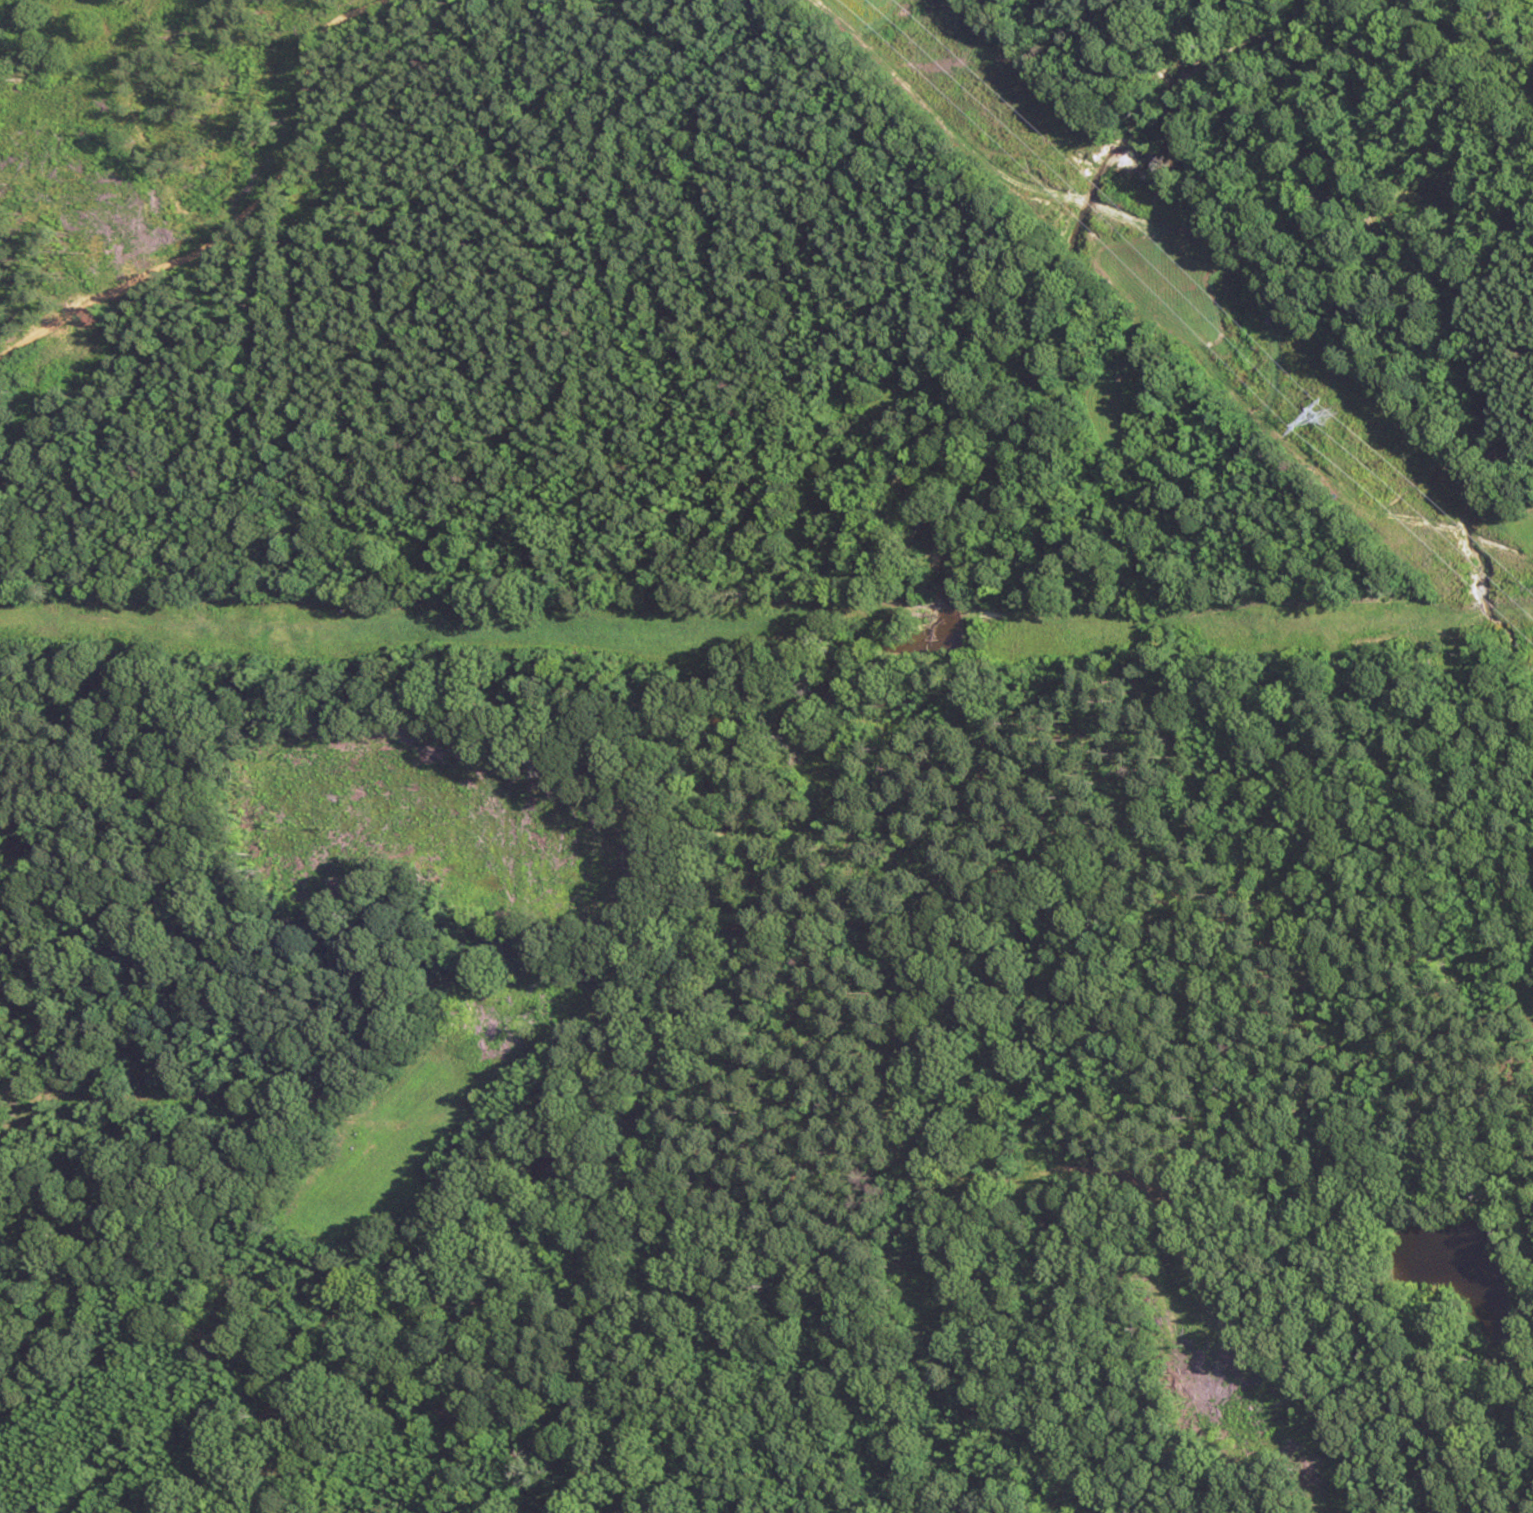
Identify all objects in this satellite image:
power tower: (1337, 419)

